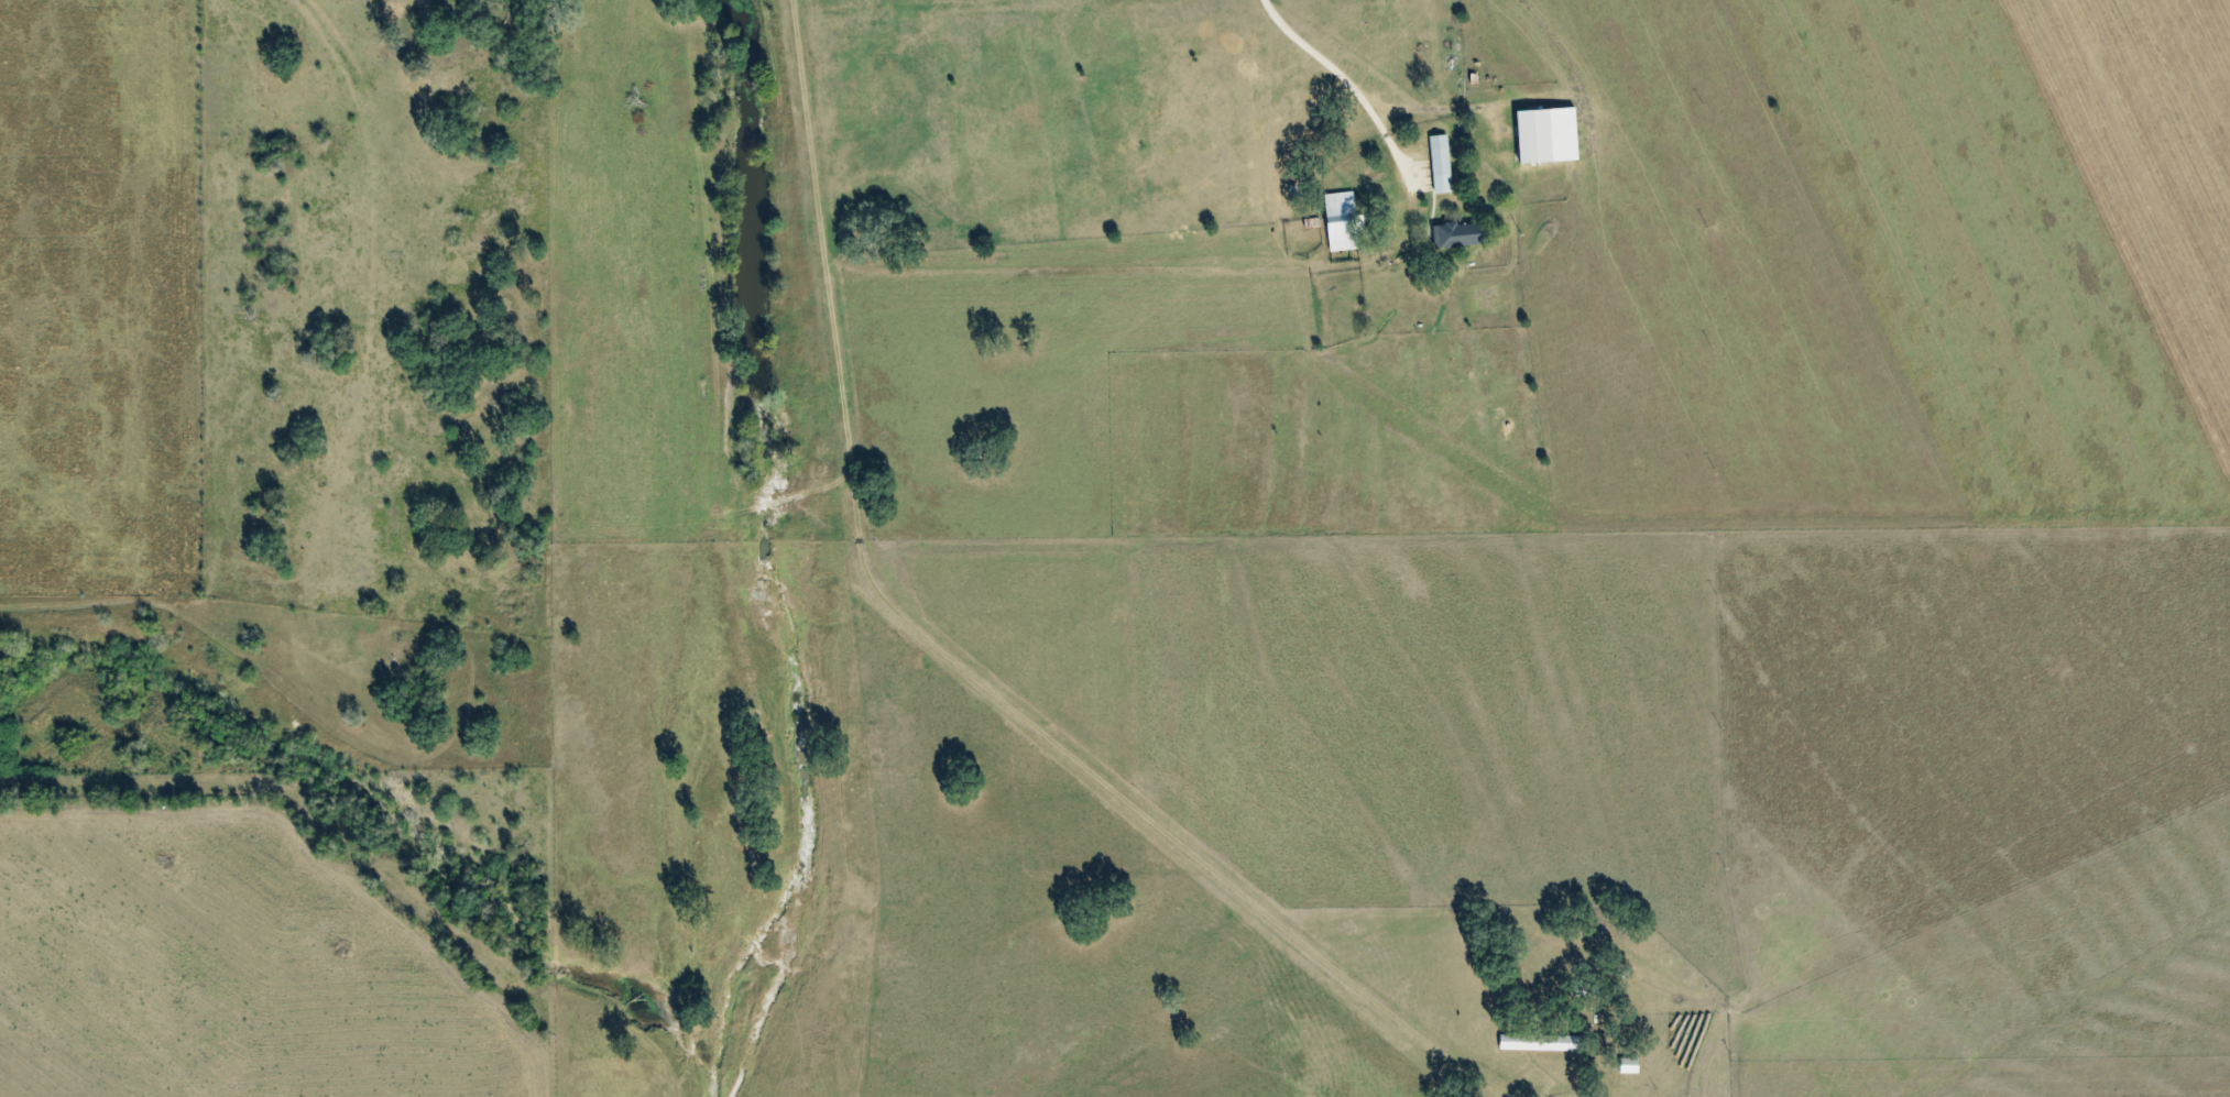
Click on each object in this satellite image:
building: (1549, 135)
building: (1441, 163)
building: (1341, 221)
building: (1458, 234)
road: (953, 650)

